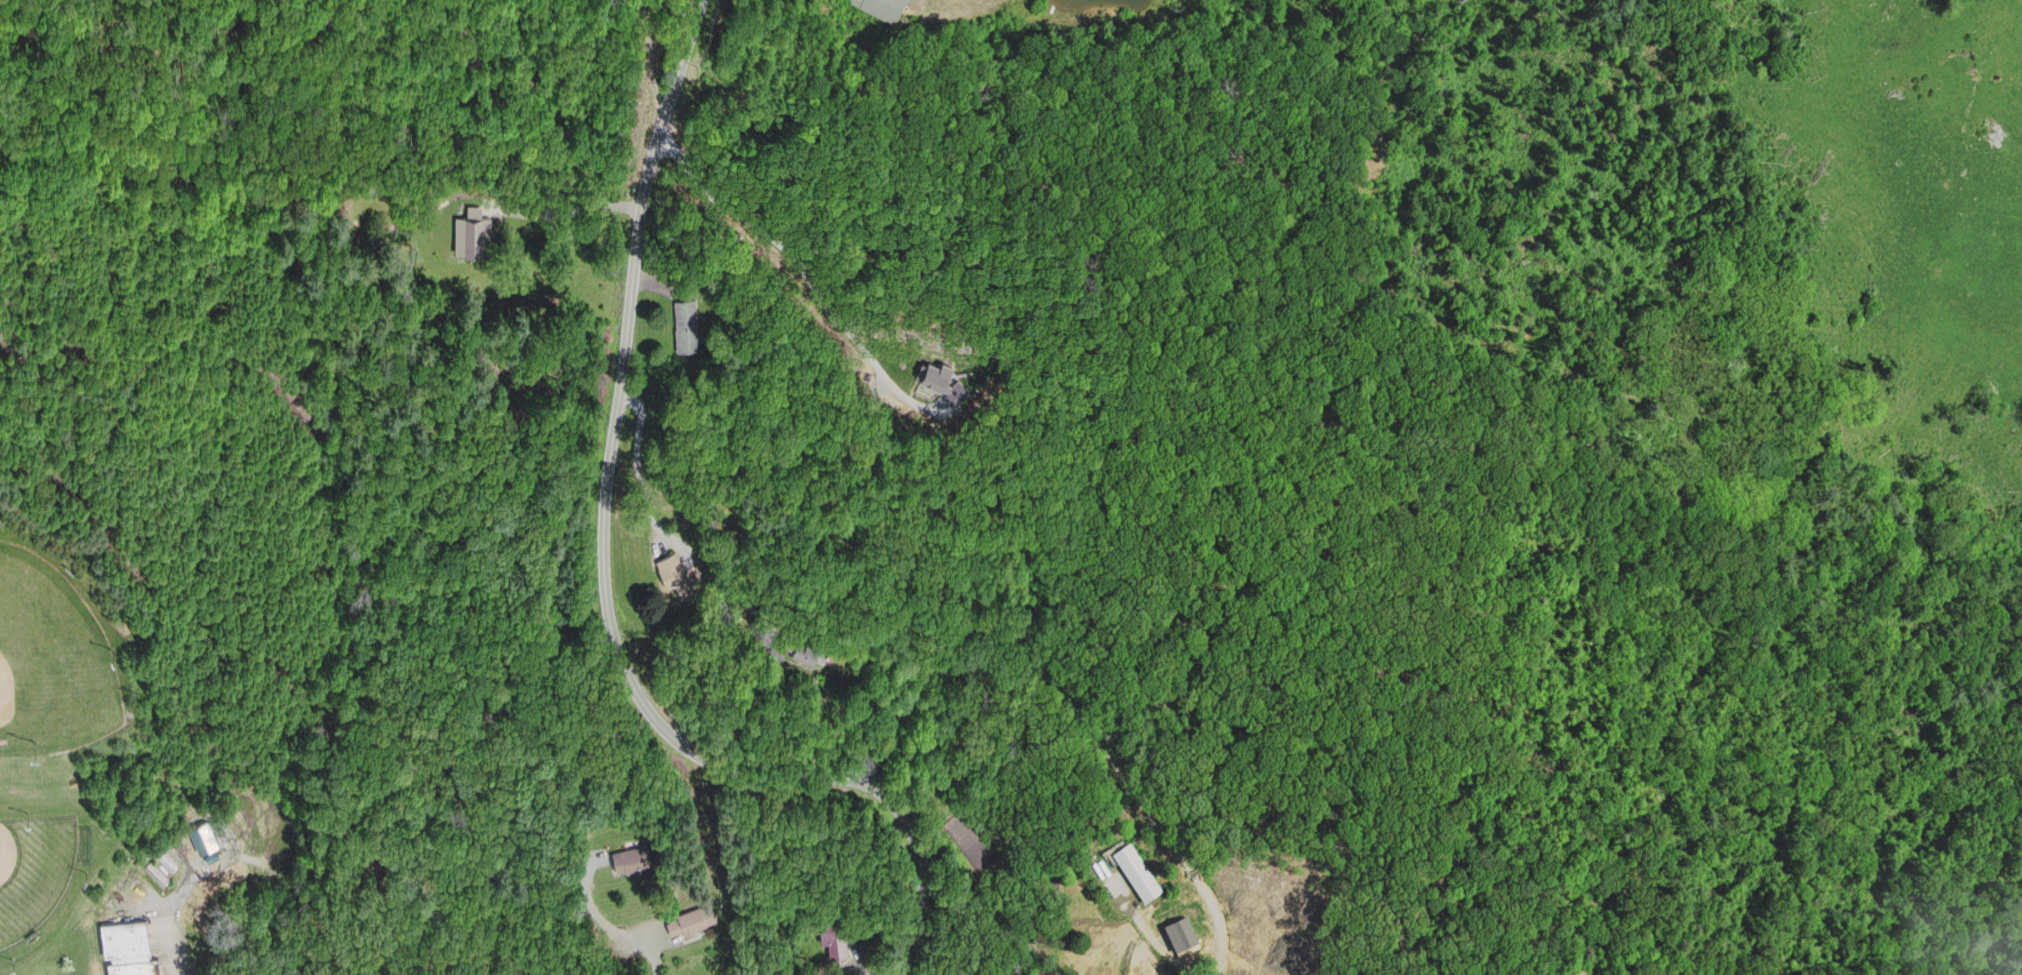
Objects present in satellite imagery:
building: (885, 8)
building: (517, 190)
building: (472, 225)
building: (686, 319)
park: (303, 459)
building: (671, 564)
road: (607, 581)
building: (761, 618)
building: (807, 640)
park: (55, 657)
building: (205, 831)
building: (630, 850)
building: (167, 856)
building: (1138, 870)
park: (42, 874)
building: (692, 911)
building: (838, 933)
building: (128, 948)
road: (663, 954)

